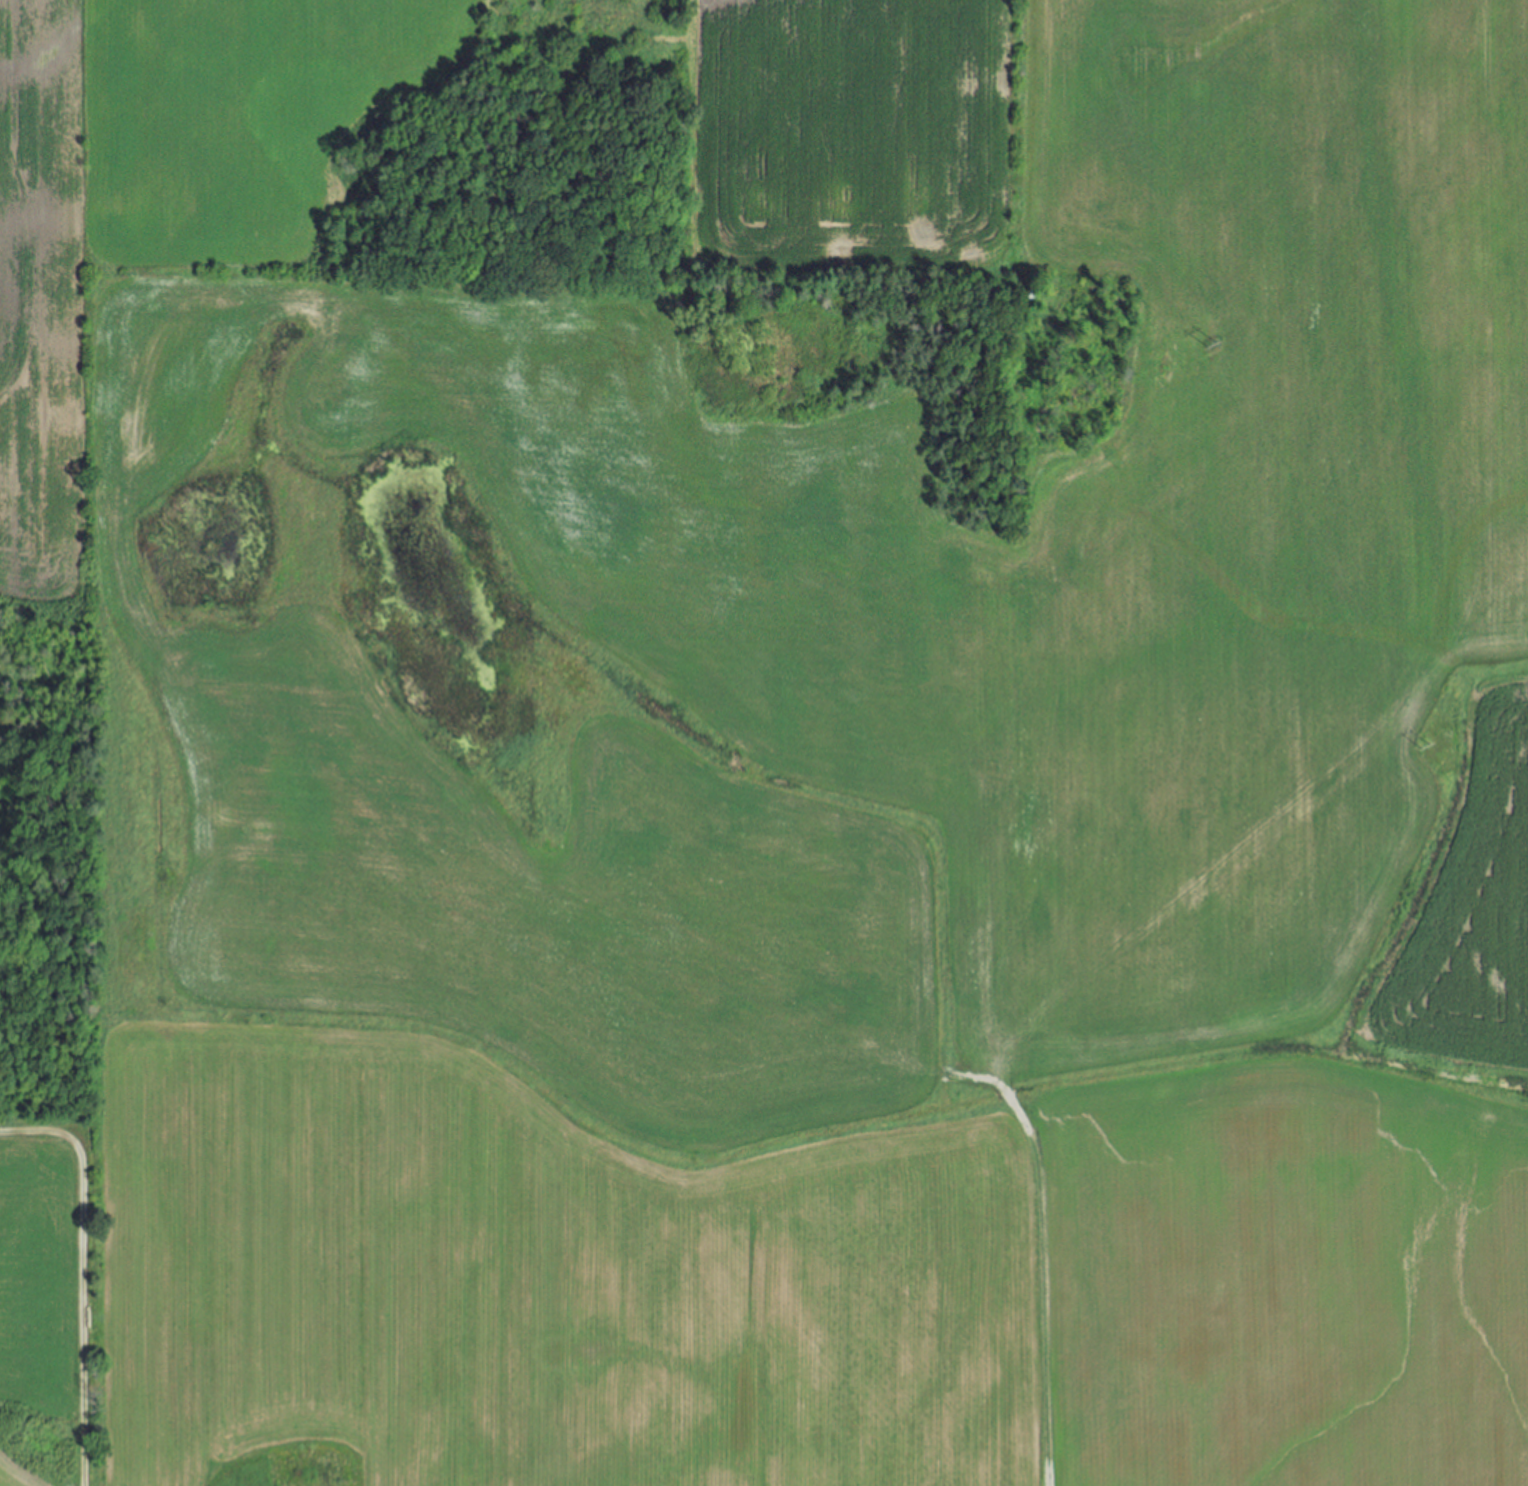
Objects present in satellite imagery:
power tower: (1211, 348)
power tower: (1424, 747)
road: (81, 1271)

